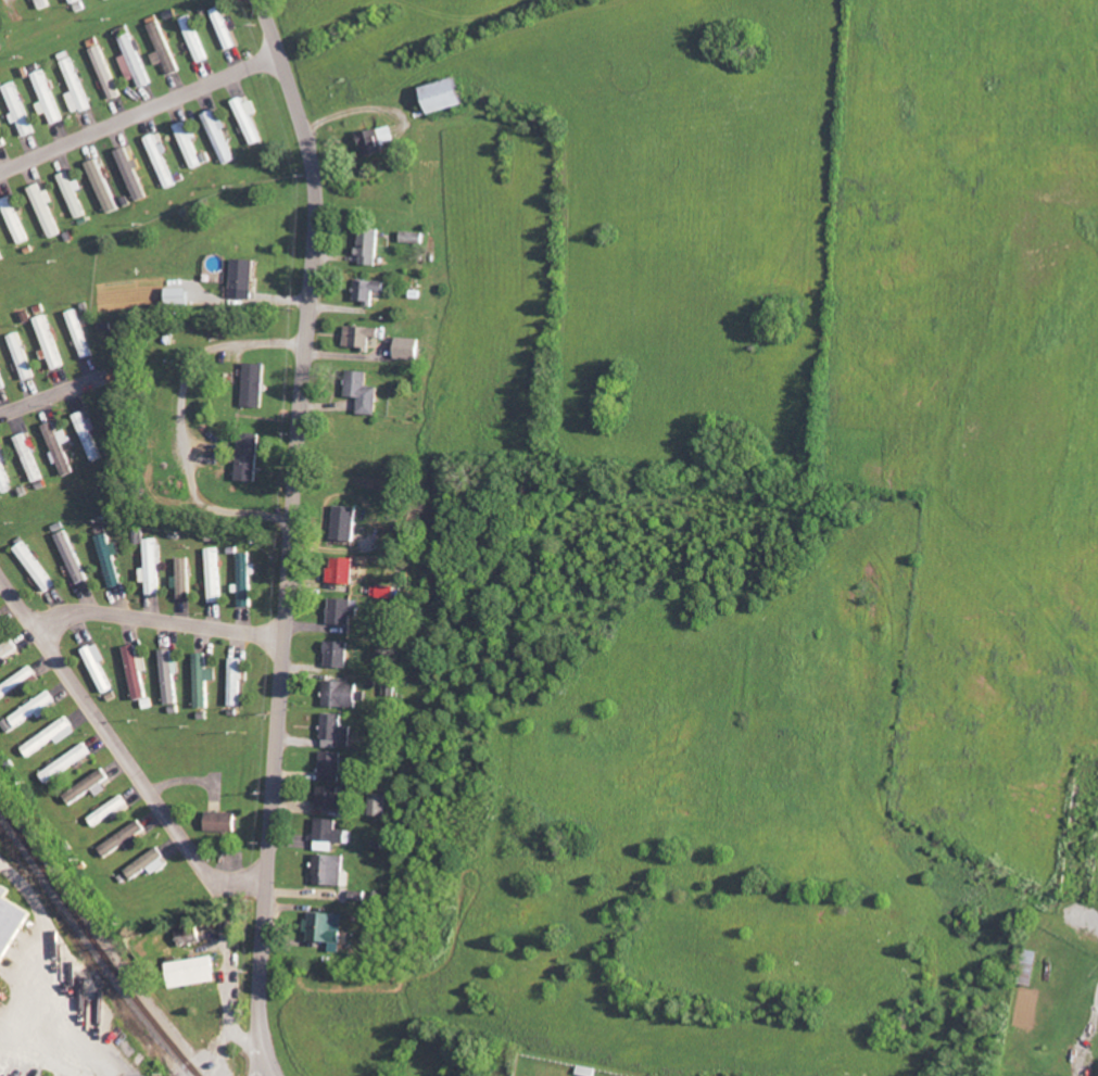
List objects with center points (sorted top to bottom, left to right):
building: (77, 1)
building: (46, 3)
building: (227, 28)
building: (198, 39)
building: (0, 42)
building: (167, 48)
building: (137, 62)
building: (79, 88)
building: (449, 96)
building: (50, 98)
building: (22, 110)
road: (141, 112)
building: (250, 118)
building: (222, 136)
building: (380, 141)
building: (191, 142)
building: (163, 161)
building: (105, 186)
building: (76, 194)
building: (48, 210)
building: (16, 220)
building: (415, 238)
building: (371, 249)
building: (1, 255)
building: (245, 279)
building: (370, 291)
building: (180, 298)
building: (83, 334)
building: (363, 337)
building: (51, 343)
building: (412, 349)
building: (23, 356)
building: (1, 382)
building: (256, 387)
road: (53, 393)
building: (366, 393)
building: (90, 435)
building: (61, 448)
building: (30, 458)
building: (251, 458)
building: (4, 473)
building: (349, 524)
road: (293, 534)
building: (73, 557)
building: (111, 560)
building: (37, 567)
building: (153, 567)
building: (343, 572)
building: (216, 575)
building: (185, 579)
building: (247, 580)
building: (384, 592)
building: (343, 611)
road: (161, 618)
building: (0, 623)
building: (8, 650)
building: (338, 655)
building: (99, 667)
building: (136, 672)
building: (171, 676)
building: (204, 681)
building: (17, 683)
building: (237, 683)
building: (345, 695)
building: (35, 709)
road: (105, 725)
building: (337, 732)
building: (52, 736)
building: (66, 762)
building: (332, 767)
building: (89, 786)
building: (332, 798)
building: (379, 803)
building: (110, 810)
building: (223, 821)
building: (330, 835)
building: (124, 839)
building: (148, 863)
building: (331, 870)
road: (211, 877)
building: (9, 920)
building: (327, 927)
road: (48, 934)
building: (189, 936)
railway: (96, 945)
building: (193, 972)
road: (1096, 1024)
road: (25, 1033)
road: (78, 1050)

